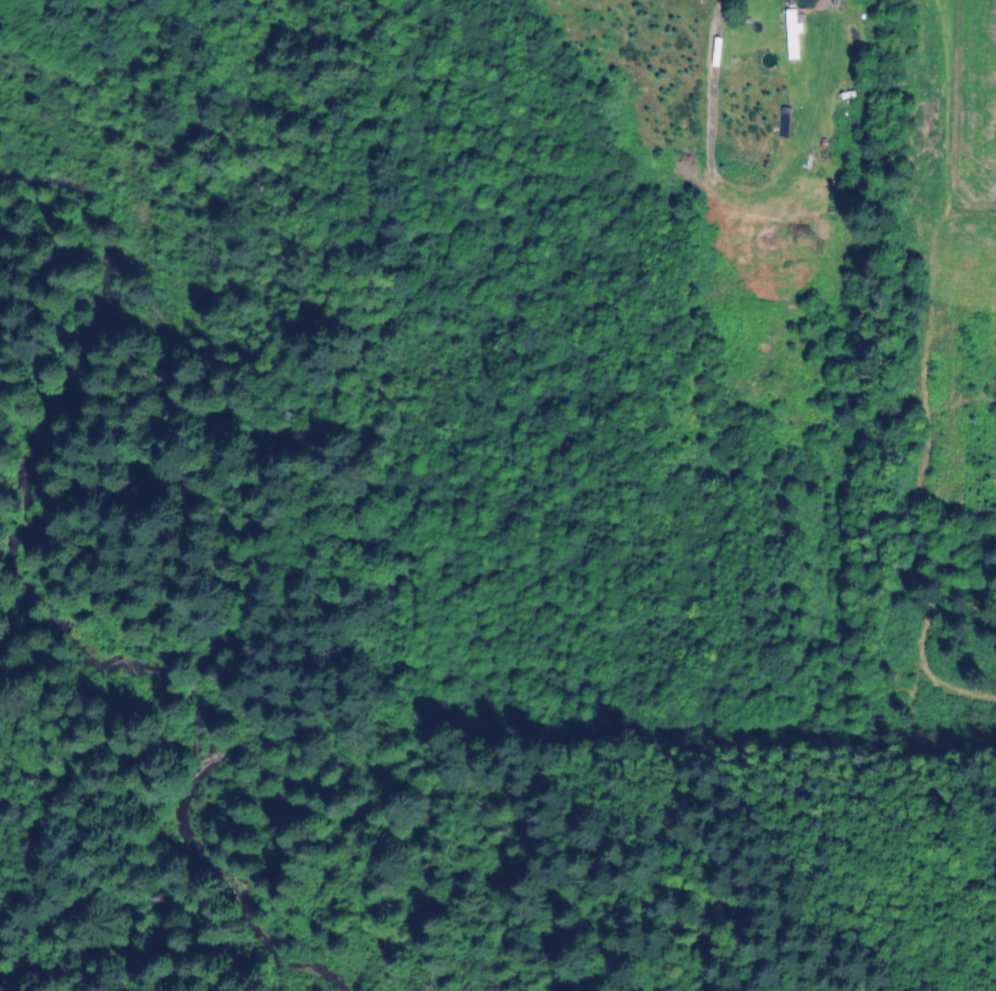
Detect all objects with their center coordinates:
building: (790, 34)
building: (840, 155)

